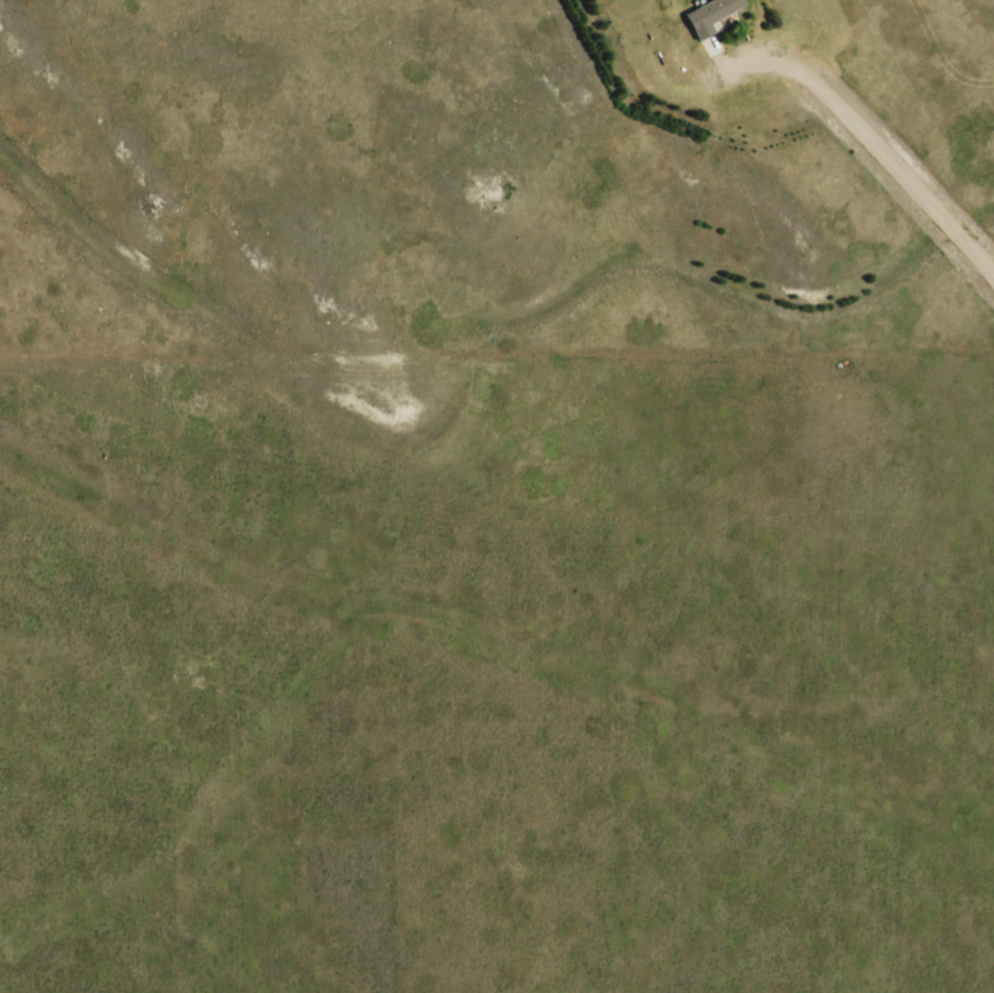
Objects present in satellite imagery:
building: (706, 13)
road: (876, 143)

